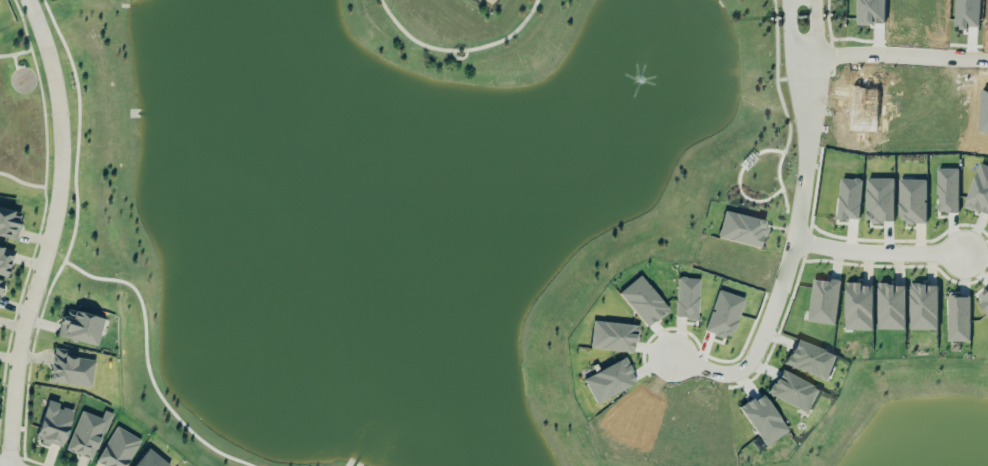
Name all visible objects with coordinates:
road: (816, 29)
road: (792, 31)
park: (471, 37)
road: (459, 49)
road: (16, 53)
road: (891, 55)
road: (460, 56)
road: (15, 61)
fountain: (640, 80)
road: (21, 181)
building: (948, 188)
building: (979, 189)
building: (850, 197)
building: (880, 198)
building: (912, 199)
road: (44, 210)
building: (9, 222)
road: (787, 227)
building: (742, 228)
road: (52, 232)
road: (876, 253)
building: (5, 259)
building: (1, 283)
building: (687, 297)
building: (984, 299)
building: (643, 300)
building: (824, 300)
building: (859, 305)
building: (891, 305)
building: (924, 305)
building: (724, 313)
building: (959, 317)
building: (80, 326)
building: (613, 335)
building: (811, 358)
building: (70, 368)
road: (697, 368)
building: (609, 379)
building: (794, 390)
building: (763, 418)
building: (53, 423)
building: (87, 433)
building: (117, 448)
road: (5, 455)
building: (150, 459)

